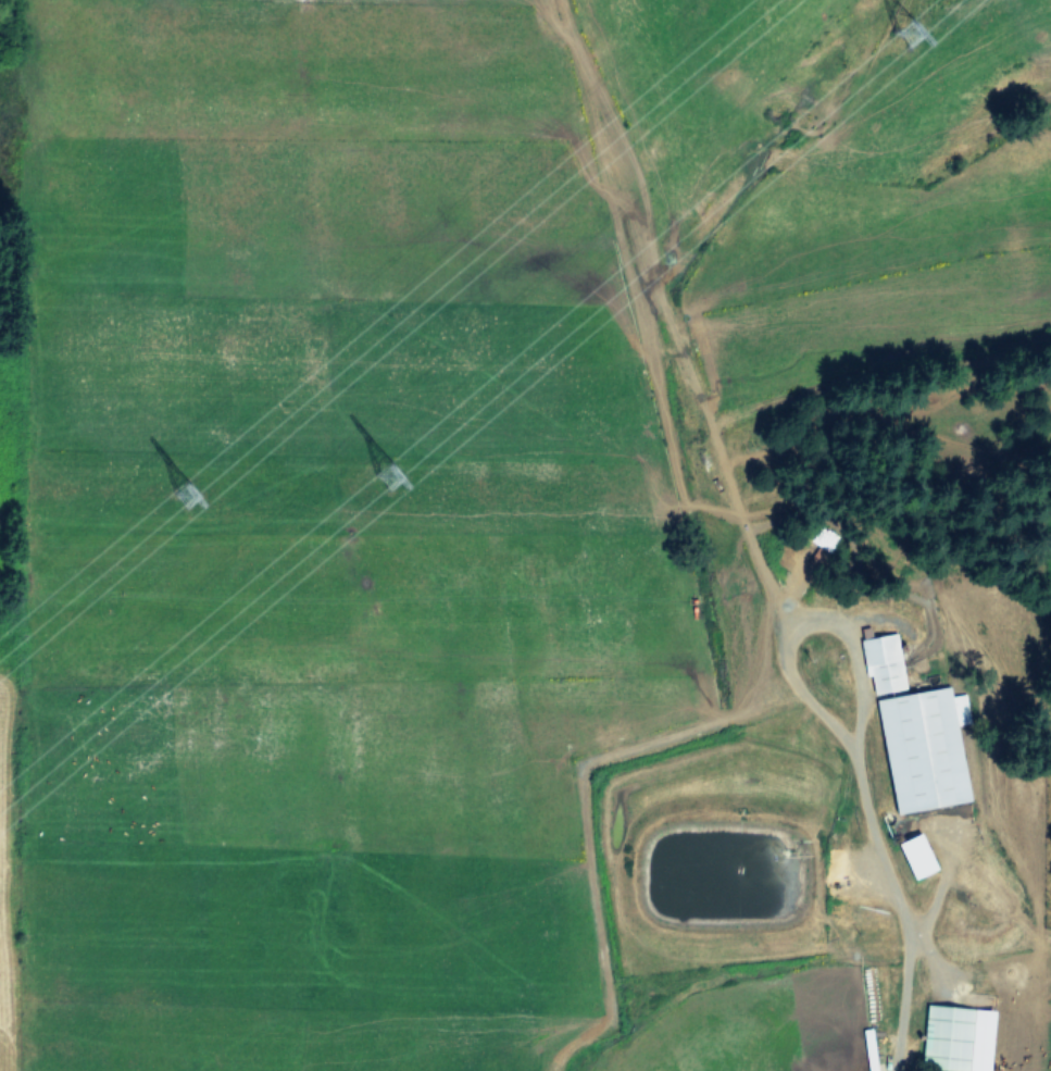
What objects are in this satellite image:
power tower: (906, 35)
power tower: (385, 474)
power tower: (182, 494)
crop: (471, 521)
road: (805, 618)
building: (879, 662)
building: (921, 747)
building: (912, 855)
road: (898, 906)
building: (952, 1038)

